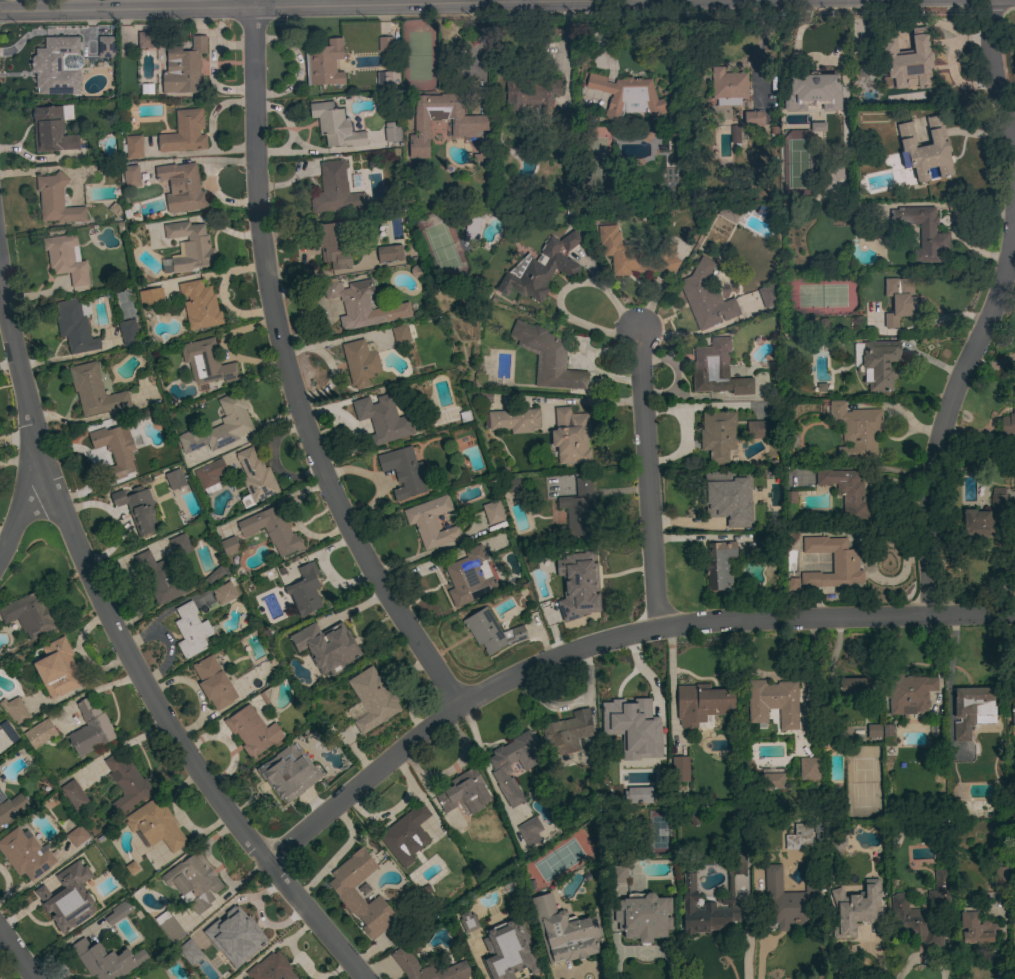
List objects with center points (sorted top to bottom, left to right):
road: (524, 0)
road: (303, 6)
building: (150, 39)
building: (385, 44)
road: (794, 46)
building: (105, 47)
road: (760, 51)
building: (908, 61)
building: (324, 63)
building: (57, 66)
building: (184, 68)
building: (387, 77)
building: (728, 87)
building: (813, 92)
building: (531, 94)
building: (627, 95)
building: (757, 118)
building: (469, 125)
building: (335, 126)
building: (818, 127)
building: (51, 130)
building: (391, 132)
building: (184, 133)
building: (735, 134)
building: (133, 147)
building: (926, 149)
building: (482, 155)
building: (594, 165)
building: (131, 176)
building: (830, 177)
building: (181, 187)
building: (335, 190)
building: (56, 201)
building: (729, 211)
building: (765, 213)
building: (472, 227)
building: (922, 232)
building: (334, 242)
building: (190, 246)
building: (389, 253)
building: (636, 255)
building: (66, 259)
building: (539, 269)
building: (416, 272)
road: (561, 292)
building: (768, 295)
building: (150, 296)
building: (705, 297)
building: (898, 300)
building: (361, 304)
building: (199, 305)
road: (989, 310)
building: (74, 327)
building: (128, 332)
building: (400, 334)
building: (548, 357)
building: (206, 362)
building: (360, 363)
building: (878, 365)
building: (716, 370)
road: (287, 372)
building: (94, 391)
road: (592, 401)
road: (594, 412)
building: (382, 419)
building: (512, 420)
building: (1009, 420)
building: (220, 426)
building: (760, 429)
building: (856, 430)
building: (717, 435)
building: (570, 436)
building: (115, 448)
building: (405, 472)
building: (210, 476)
building: (255, 478)
building: (175, 479)
road: (649, 479)
building: (510, 485)
building: (847, 493)
building: (728, 497)
building: (790, 499)
building: (138, 509)
road: (18, 511)
building: (578, 511)
building: (492, 512)
building: (986, 519)
building: (431, 522)
building: (272, 530)
building: (180, 545)
building: (229, 546)
building: (832, 562)
building: (719, 565)
building: (215, 575)
building: (160, 578)
building: (469, 578)
building: (793, 585)
building: (305, 590)
building: (575, 590)
building: (232, 591)
building: (223, 595)
building: (30, 614)
building: (191, 630)
building: (491, 632)
building: (292, 637)
building: (341, 642)
road: (606, 642)
road: (133, 660)
building: (57, 669)
building: (214, 683)
building: (854, 691)
building: (909, 693)
building: (372, 699)
building: (701, 703)
building: (773, 703)
building: (14, 710)
building: (635, 711)
building: (971, 711)
building: (355, 713)
building: (1012, 715)
building: (90, 729)
building: (252, 731)
building: (873, 731)
building: (566, 732)
building: (40, 733)
building: (887, 735)
building: (808, 768)
road: (450, 769)
building: (680, 769)
building: (501, 770)
building: (286, 777)
building: (772, 781)
building: (126, 783)
building: (464, 792)
building: (73, 794)
road: (433, 799)
building: (11, 807)
building: (156, 825)
building: (530, 831)
building: (406, 835)
building: (77, 836)
building: (794, 839)
building: (836, 843)
building: (25, 854)
building: (618, 874)
building: (1000, 879)
building: (193, 881)
building: (344, 891)
building: (787, 901)
building: (711, 903)
building: (61, 907)
building: (855, 909)
building: (117, 912)
building: (922, 913)
building: (643, 917)
building: (467, 922)
road: (761, 923)
building: (975, 927)
building: (171, 929)
building: (237, 933)
building: (565, 933)
building: (184, 946)
building: (507, 950)
road: (17, 954)
building: (105, 960)
building: (271, 968)
building: (427, 968)
building: (299, 978)

